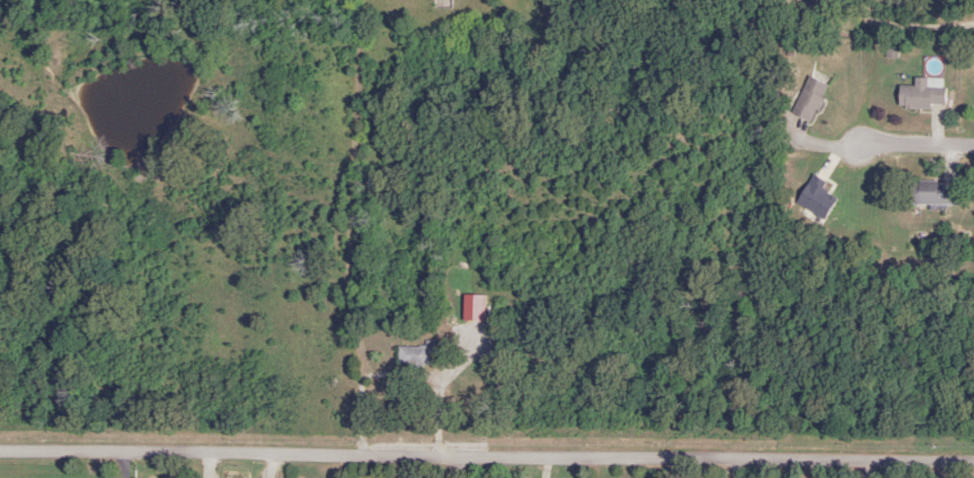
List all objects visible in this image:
building: (440, 4)
road: (538, 10)
road: (892, 22)
building: (922, 93)
building: (809, 98)
road: (921, 149)
building: (932, 193)
building: (815, 197)
road: (351, 228)
building: (422, 353)
road: (487, 458)
road: (126, 464)
road: (650, 468)
road: (869, 469)

